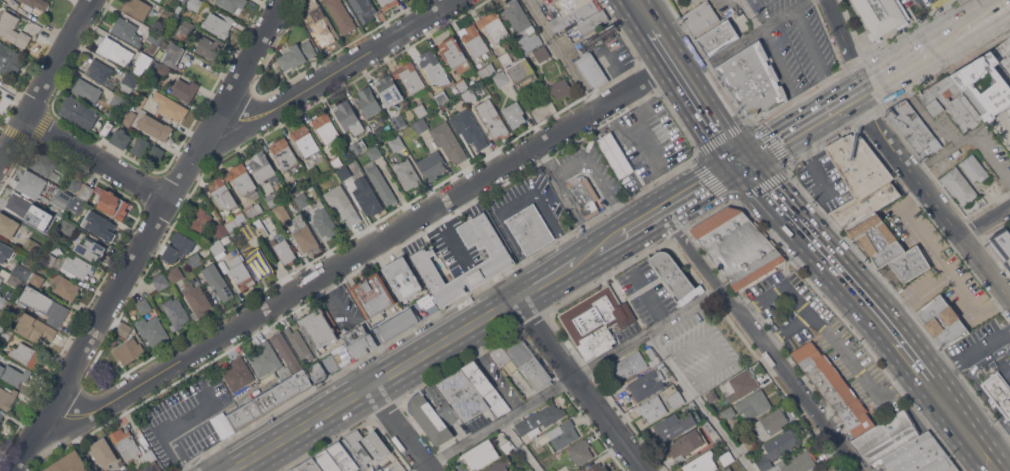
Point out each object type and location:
building: (159, 0)
building: (692, 0)
building: (704, 0)
building: (184, 1)
building: (388, 3)
building: (35, 4)
building: (194, 4)
building: (232, 5)
building: (137, 8)
building: (363, 9)
building: (573, 13)
road: (647, 14)
building: (341, 15)
road: (753, 15)
building: (881, 15)
building: (517, 17)
building: (701, 17)
building: (218, 24)
building: (592, 24)
road: (972, 24)
building: (494, 26)
building: (321, 27)
building: (186, 28)
building: (13, 30)
building: (570, 30)
building: (126, 31)
building: (156, 36)
building: (718, 37)
building: (595, 39)
road: (750, 39)
building: (473, 40)
building: (529, 41)
road: (844, 44)
building: (209, 47)
building: (112, 49)
building: (453, 53)
building: (542, 53)
building: (173, 54)
building: (297, 54)
building: (1003, 54)
road: (561, 55)
building: (507, 56)
road: (817, 56)
building: (9, 59)
building: (144, 59)
building: (432, 66)
road: (329, 67)
road: (896, 67)
building: (162, 69)
building: (140, 70)
building: (486, 70)
building: (593, 70)
building: (100, 72)
building: (522, 72)
road: (784, 77)
building: (411, 78)
building: (501, 78)
road: (46, 79)
building: (752, 79)
building: (128, 81)
building: (462, 84)
building: (983, 85)
building: (185, 89)
building: (389, 89)
building: (560, 89)
building: (86, 90)
road: (701, 94)
building: (444, 95)
building: (469, 95)
road: (849, 96)
building: (139, 98)
building: (117, 99)
building: (368, 101)
building: (930, 102)
building: (956, 103)
road: (866, 104)
building: (170, 106)
road: (921, 109)
building: (1008, 109)
building: (420, 110)
building: (79, 112)
building: (114, 112)
road: (822, 113)
building: (514, 114)
building: (127, 117)
building: (348, 117)
building: (492, 118)
building: (399, 121)
building: (420, 125)
building: (154, 126)
road: (637, 127)
road: (798, 127)
building: (326, 128)
building: (469, 128)
building: (913, 128)
building: (379, 133)
building: (120, 138)
building: (305, 140)
building: (448, 141)
building: (396, 143)
building: (139, 146)
building: (356, 146)
road: (768, 146)
road: (941, 152)
building: (284, 153)
building: (375, 153)
building: (155, 154)
building: (615, 154)
road: (992, 159)
building: (335, 161)
traffic signals: (745, 161)
road: (547, 162)
road: (93, 163)
building: (44, 164)
building: (431, 165)
building: (263, 167)
road: (569, 167)
building: (973, 168)
building: (344, 172)
building: (407, 173)
road: (821, 177)
building: (241, 179)
building: (860, 179)
building: (73, 183)
building: (30, 184)
building: (382, 185)
road: (766, 185)
building: (958, 185)
road: (703, 186)
building: (86, 192)
building: (221, 193)
road: (831, 193)
building: (366, 194)
building: (584, 195)
building: (274, 196)
building: (65, 198)
building: (302, 199)
road: (515, 202)
building: (342, 203)
building: (113, 204)
building: (22, 205)
building: (77, 205)
building: (253, 209)
road: (940, 209)
building: (282, 213)
building: (199, 219)
building: (235, 219)
building: (324, 221)
road: (644, 221)
road: (986, 222)
building: (44, 224)
building: (8, 225)
building: (100, 226)
building: (67, 227)
building: (254, 229)
building: (530, 229)
road: (149, 234)
building: (304, 234)
road: (447, 234)
building: (879, 239)
road: (612, 241)
building: (1001, 245)
building: (737, 246)
building: (32, 247)
building: (180, 247)
building: (217, 247)
building: (90, 248)
building: (283, 248)
building: (5, 252)
road: (356, 254)
building: (48, 258)
building: (500, 259)
building: (195, 260)
building: (235, 260)
building: (259, 262)
building: (910, 264)
building: (77, 266)
building: (0, 272)
road: (558, 273)
building: (17, 274)
building: (175, 274)
building: (242, 276)
building: (401, 277)
building: (36, 279)
building: (673, 280)
building: (160, 281)
building: (217, 281)
building: (66, 288)
building: (372, 294)
road: (334, 298)
building: (197, 299)
building: (425, 301)
building: (4, 302)
building: (44, 305)
building: (144, 306)
road: (763, 306)
road: (871, 307)
building: (176, 313)
building: (598, 321)
building: (942, 321)
building: (398, 323)
building: (0, 325)
building: (319, 327)
building: (35, 328)
building: (123, 329)
building: (152, 330)
road: (786, 330)
building: (5, 332)
road: (758, 341)
building: (299, 343)
building: (355, 345)
road: (713, 349)
building: (129, 351)
building: (651, 353)
building: (25, 354)
road: (971, 357)
building: (521, 361)
road: (851, 361)
building: (628, 365)
building: (318, 371)
building: (13, 374)
building: (238, 374)
road: (571, 379)
road: (974, 381)
road: (376, 383)
road: (585, 383)
building: (647, 384)
building: (742, 385)
building: (834, 387)
building: (486, 388)
building: (998, 392)
building: (462, 395)
building: (7, 396)
building: (710, 396)
building: (272, 397)
building: (676, 401)
road: (698, 402)
building: (441, 405)
building: (753, 405)
building: (653, 408)
building: (728, 413)
building: (1, 417)
building: (540, 418)
building: (430, 420)
building: (0, 423)
building: (770, 423)
building: (676, 425)
road: (404, 428)
road: (168, 429)
building: (563, 434)
building: (886, 437)
road: (976, 439)
road: (997, 439)
building: (749, 442)
building: (130, 443)
building: (687, 444)
building: (376, 445)
road: (524, 446)
building: (508, 447)
building: (778, 447)
building: (356, 448)
building: (103, 452)
building: (580, 452)
building: (480, 455)
building: (149, 456)
building: (920, 456)
building: (726, 457)
building: (336, 458)
building: (797, 461)
building: (71, 463)
building: (701, 463)
building: (499, 465)
building: (308, 466)
building: (520, 466)
road: (1005, 466)
building: (152, 467)
building: (49, 468)
building: (598, 468)
building: (726, 469)
building: (820, 470)
building: (824, 470)

